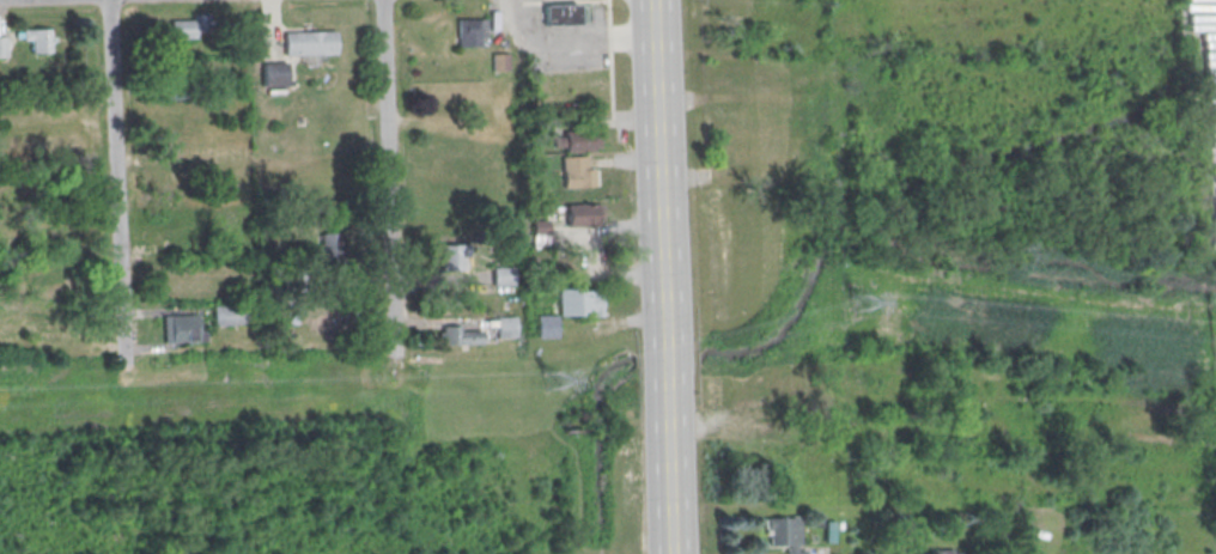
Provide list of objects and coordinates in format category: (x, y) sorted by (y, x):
building: (560, 14)
building: (189, 26)
building: (472, 31)
building: (38, 39)
building: (308, 39)
road: (572, 39)
building: (2, 45)
building: (272, 71)
building: (576, 141)
building: (756, 146)
road: (657, 159)
building: (577, 171)
road: (385, 179)
road: (114, 185)
building: (583, 214)
building: (539, 231)
building: (328, 248)
building: (452, 257)
building: (504, 275)
power tower: (858, 299)
building: (578, 304)
building: (225, 315)
building: (545, 325)
building: (505, 327)
building: (183, 328)
building: (461, 335)
road: (664, 364)
power tower: (552, 378)
building: (777, 448)
road: (668, 481)
building: (785, 532)
building: (946, 552)

